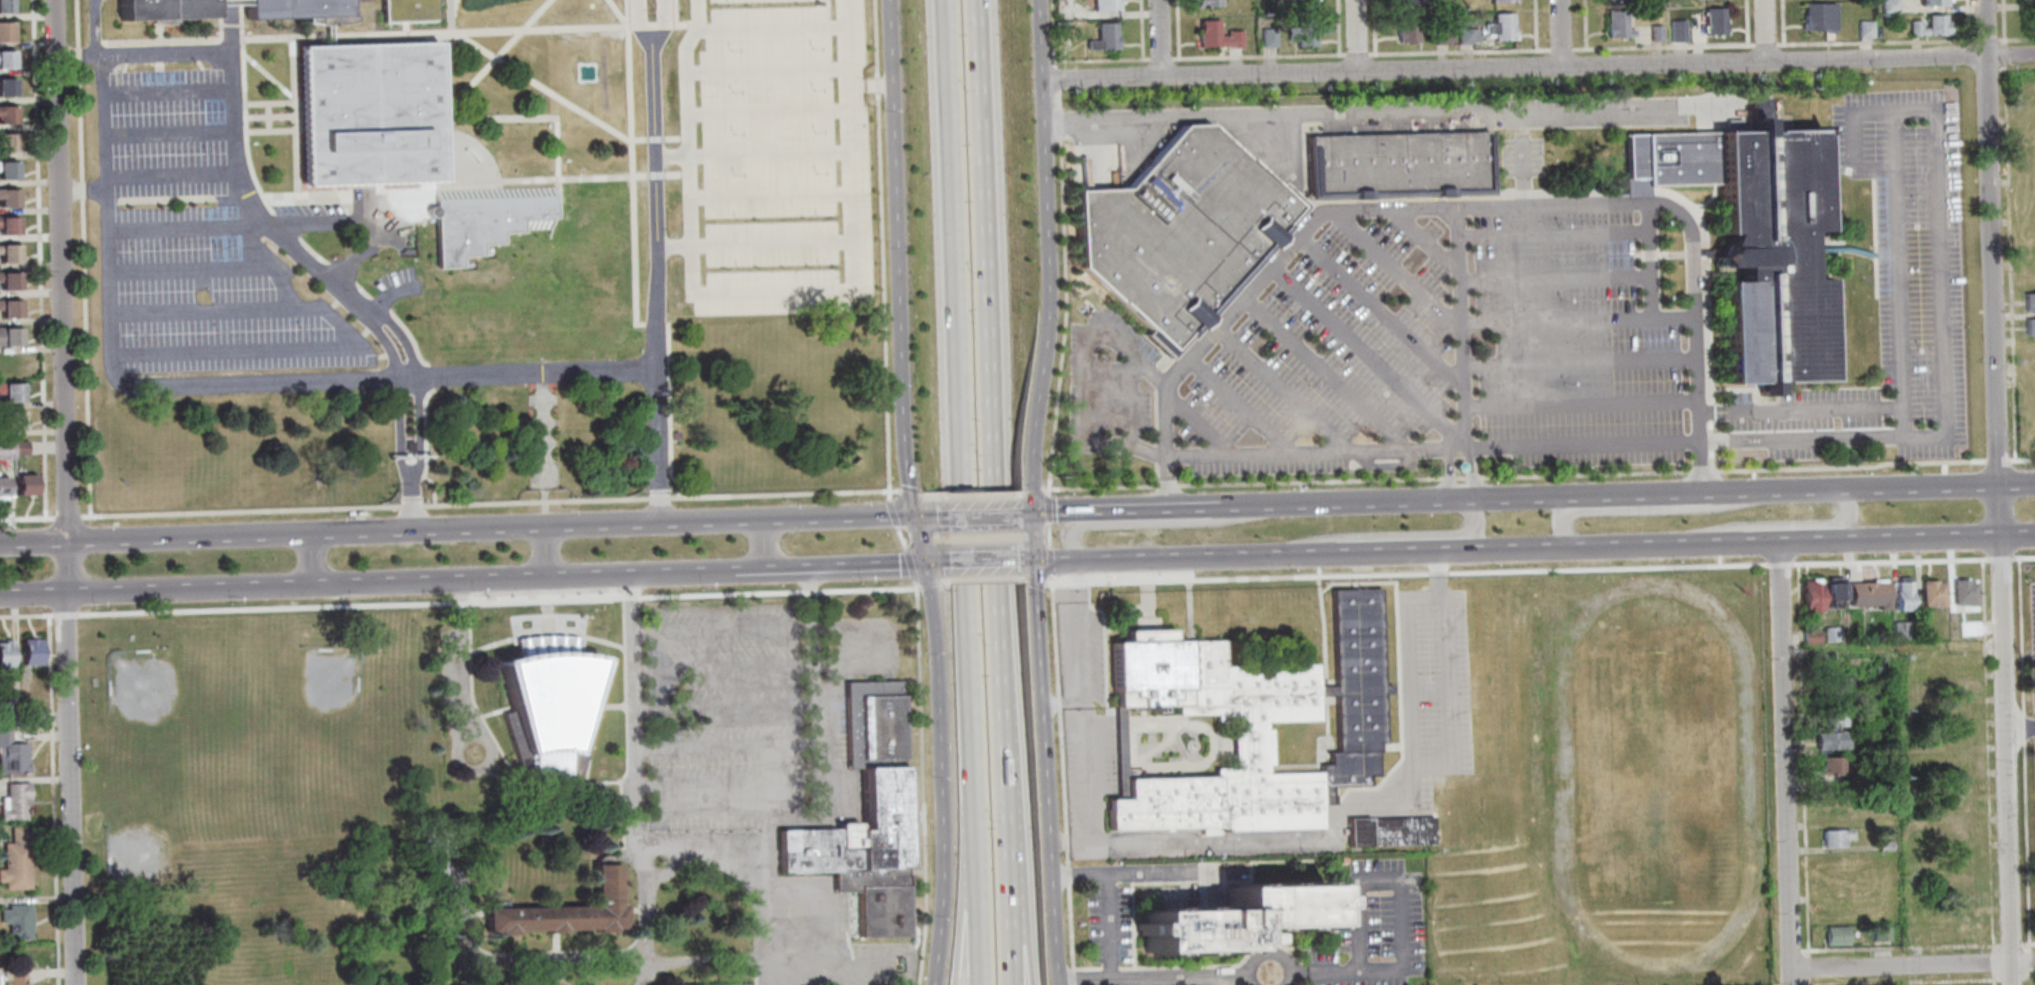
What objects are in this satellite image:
building: (1616, 0)
building: (2026, 0)
building: (1501, 1)
building: (229, 2)
building: (1404, 2)
building: (1931, 2)
road: (229, 3)
building: (1205, 3)
building: (1102, 5)
building: (4, 6)
building: (1302, 6)
building: (1887, 6)
building: (166, 10)
building: (302, 11)
building: (409, 11)
building: (1817, 16)
road: (1965, 20)
building: (1713, 22)
road: (1744, 22)
road: (1780, 22)
road: (2001, 22)
road: (633, 23)
road: (1533, 24)
road: (1583, 24)
building: (1615, 25)
road: (1335, 27)
road: (1372, 27)
building: (1407, 27)
building: (1499, 27)
building: (1928, 27)
road: (1138, 29)
road: (1176, 29)
building: (1863, 29)
road: (1763, 30)
building: (4, 31)
building: (1676, 31)
road: (1047, 33)
building: (1300, 33)
road: (1559, 33)
building: (1654, 33)
road: (1354, 35)
building: (329, 36)
building: (1214, 36)
building: (1466, 36)
building: (1100, 37)
road: (1158, 37)
building: (1440, 37)
building: (1267, 38)
road: (2015, 39)
road: (1983, 40)
road: (1872, 41)
road: (1763, 44)
road: (1661, 46)
road: (1559, 49)
road: (1457, 51)
road: (80, 54)
road: (1355, 54)
road: (2003, 54)
road: (1256, 56)
road: (107, 58)
building: (5, 59)
road: (1097, 59)
road: (1158, 59)
road: (1535, 67)
road: (2016, 68)
road: (683, 77)
road: (1051, 79)
road: (865, 85)
building: (5, 87)
road: (169, 91)
building: (369, 114)
road: (1389, 114)
building: (6, 115)
parking lot: (167, 134)
road: (170, 134)
road: (1893, 139)
road: (1849, 140)
building: (6, 143)
parking lot: (767, 155)
road: (668, 157)
building: (1395, 165)
building: (6, 170)
road: (171, 170)
road: (242, 190)
building: (7, 198)
road: (1459, 209)
building: (485, 219)
road: (320, 221)
building: (7, 226)
road: (176, 227)
parking lot: (189, 233)
building: (1172, 235)
road: (1551, 235)
building: (1750, 239)
road: (1424, 240)
road: (1990, 242)
road: (670, 246)
road: (359, 252)
building: (7, 254)
road: (1041, 257)
road: (890, 258)
road: (654, 260)
road: (2007, 261)
road: (38, 264)
road: (82, 264)
road: (186, 267)
road: (1398, 267)
road: (59, 270)
road: (1941, 276)
road: (1552, 278)
building: (8, 281)
road: (1649, 282)
road: (844, 287)
road: (1896, 288)
road: (1059, 294)
building: (2028, 303)
building: (8, 309)
road: (1375, 309)
road: (198, 311)
parking lot: (1578, 312)
road: (1553, 318)
building: (2029, 327)
road: (1457, 329)
building: (8, 336)
road: (404, 339)
road: (387, 347)
road: (224, 351)
road: (1362, 356)
road: (1577, 361)
road: (1319, 373)
road: (370, 377)
road: (1078, 382)
road: (1277, 388)
building: (10, 392)
road: (1122, 399)
road: (1578, 403)
road: (1231, 405)
road: (1798, 411)
road: (1189, 418)
building: (11, 420)
road: (957, 425)
road: (420, 427)
road: (398, 429)
building: (674, 437)
road: (1543, 446)
building: (18, 447)
building: (410, 447)
road: (541, 449)
building: (5, 450)
road: (2020, 459)
road: (1995, 461)
road: (1509, 474)
road: (1444, 475)
road: (1466, 475)
road: (2015, 484)
building: (23, 485)
building: (2, 486)
road: (1869, 489)
road: (1024, 491)
road: (996, 492)
road: (1013, 494)
road: (1657, 495)
road: (968, 496)
road: (1428, 501)
road: (503, 502)
road: (414, 507)
road: (1256, 508)
road: (1039, 509)
road: (1150, 510)
road: (1049, 513)
road: (974, 514)
road: (1017, 514)
traffic signals: (1025, 514)
traffic signals: (911, 515)
road: (925, 515)
road: (66, 519)
road: (26, 520)
road: (1557, 522)
road: (633, 524)
road: (1823, 525)
road: (1472, 527)
road: (335, 534)
road: (1061, 535)
road: (2016, 536)
road: (189, 538)
road: (917, 540)
road: (32, 542)
road: (1728, 543)
road: (775, 544)
road: (544, 552)
road: (1368, 553)
road: (2021, 557)
road: (1151, 559)
road: (315, 560)
road: (1885, 561)
road: (1018, 562)
traffic signals: (1026, 562)
road: (975, 563)
road: (932, 564)
traffic signals: (923, 565)
road: (82, 566)
road: (54, 567)
road: (65, 567)
road: (826, 567)
road: (697, 571)
road: (490, 579)
road: (190, 589)
building: (1831, 592)
road: (32, 593)
building: (1961, 593)
building: (1929, 594)
building: (1866, 595)
building: (1806, 597)
building: (1899, 597)
road: (493, 602)
road: (81, 610)
road: (26, 615)
road: (64, 615)
road: (716, 628)
building: (1897, 630)
road: (2017, 630)
building: (1917, 631)
building: (1827, 634)
building: (1807, 637)
building: (29, 652)
building: (5, 655)
road: (463, 659)
road: (1400, 665)
building: (1876, 666)
road: (810, 667)
road: (718, 669)
parking lot: (2032, 681)
park: (322, 684)
road: (1442, 684)
building: (1830, 684)
park: (141, 685)
parking lot: (1424, 692)
road: (1053, 700)
road: (1075, 700)
building: (545, 706)
building: (1827, 718)
building: (8, 719)
building: (31, 719)
building: (1876, 724)
building: (1243, 725)
road: (2020, 727)
road: (2018, 730)
road: (2003, 734)
building: (1825, 740)
road: (1034, 749)
road: (1984, 751)
road: (1051, 753)
building: (11, 755)
road: (1798, 756)
road: (1781, 763)
park: (1651, 766)
building: (1827, 767)
road: (934, 774)
road: (630, 776)
road: (913, 786)
road: (69, 788)
road: (50, 795)
building: (1834, 800)
building: (13, 802)
road: (1354, 802)
building: (855, 817)
building: (1382, 832)
building: (1830, 839)
road: (1181, 840)
building: (1880, 846)
road: (2023, 847)
park: (146, 850)
building: (430, 852)
building: (15, 860)
road: (1136, 872)
building: (562, 910)
road: (1395, 915)
building: (1222, 916)
road: (961, 917)
road: (970, 917)
building: (16, 922)
road: (1099, 926)
parking lot: (1366, 927)
building: (1878, 934)
building: (1832, 935)
road: (2026, 943)
road: (1022, 945)
road: (2008, 945)
road: (755, 947)
road: (1900, 948)
road: (1259, 953)
road: (698, 958)
road: (1990, 962)
road: (2027, 962)
road: (1910, 964)
road: (1804, 968)
road: (748, 971)
road: (2027, 975)
road: (2027, 976)
road: (785, 977)
building: (12, 978)
road: (1143, 978)
road: (1989, 978)
road: (1990, 978)
road: (2008, 978)
road: (547, 980)
road: (561, 980)
road: (1805, 982)
road: (2027, 982)
building: (720, 984)
road: (1792, 984)
road: (1801, 984)
road: (1990, 984)

